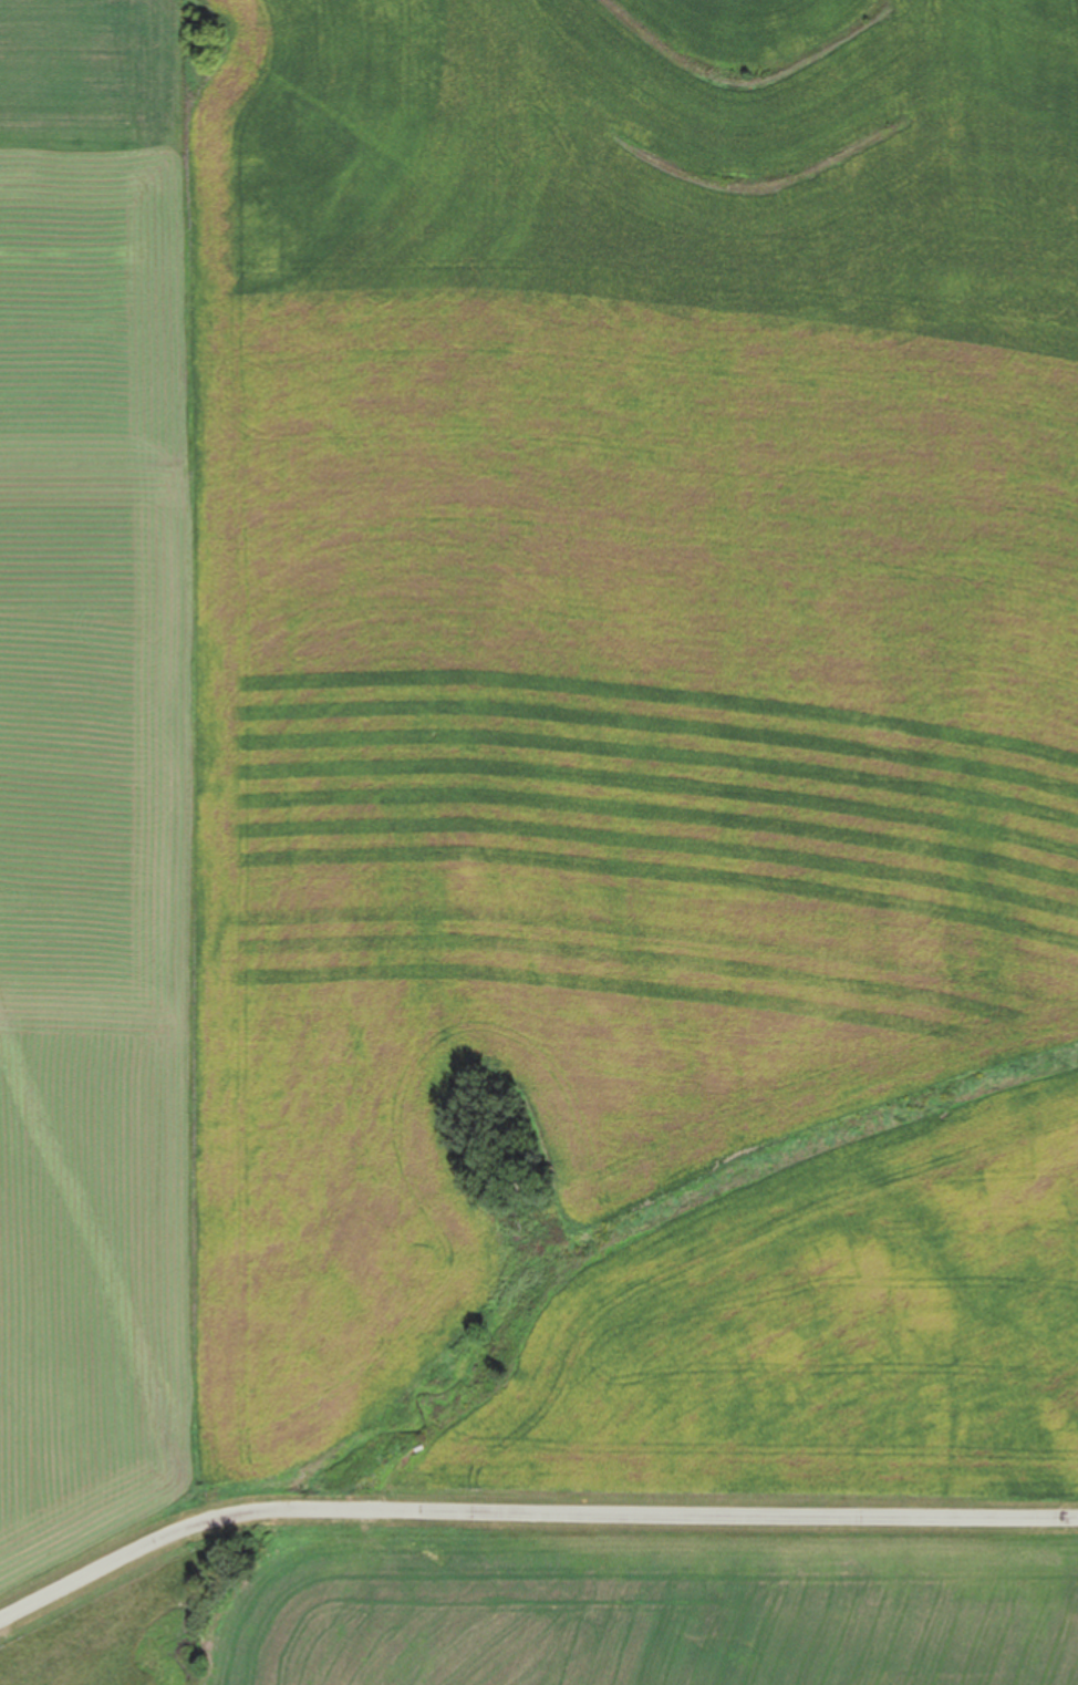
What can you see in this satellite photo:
road: (525, 1513)

